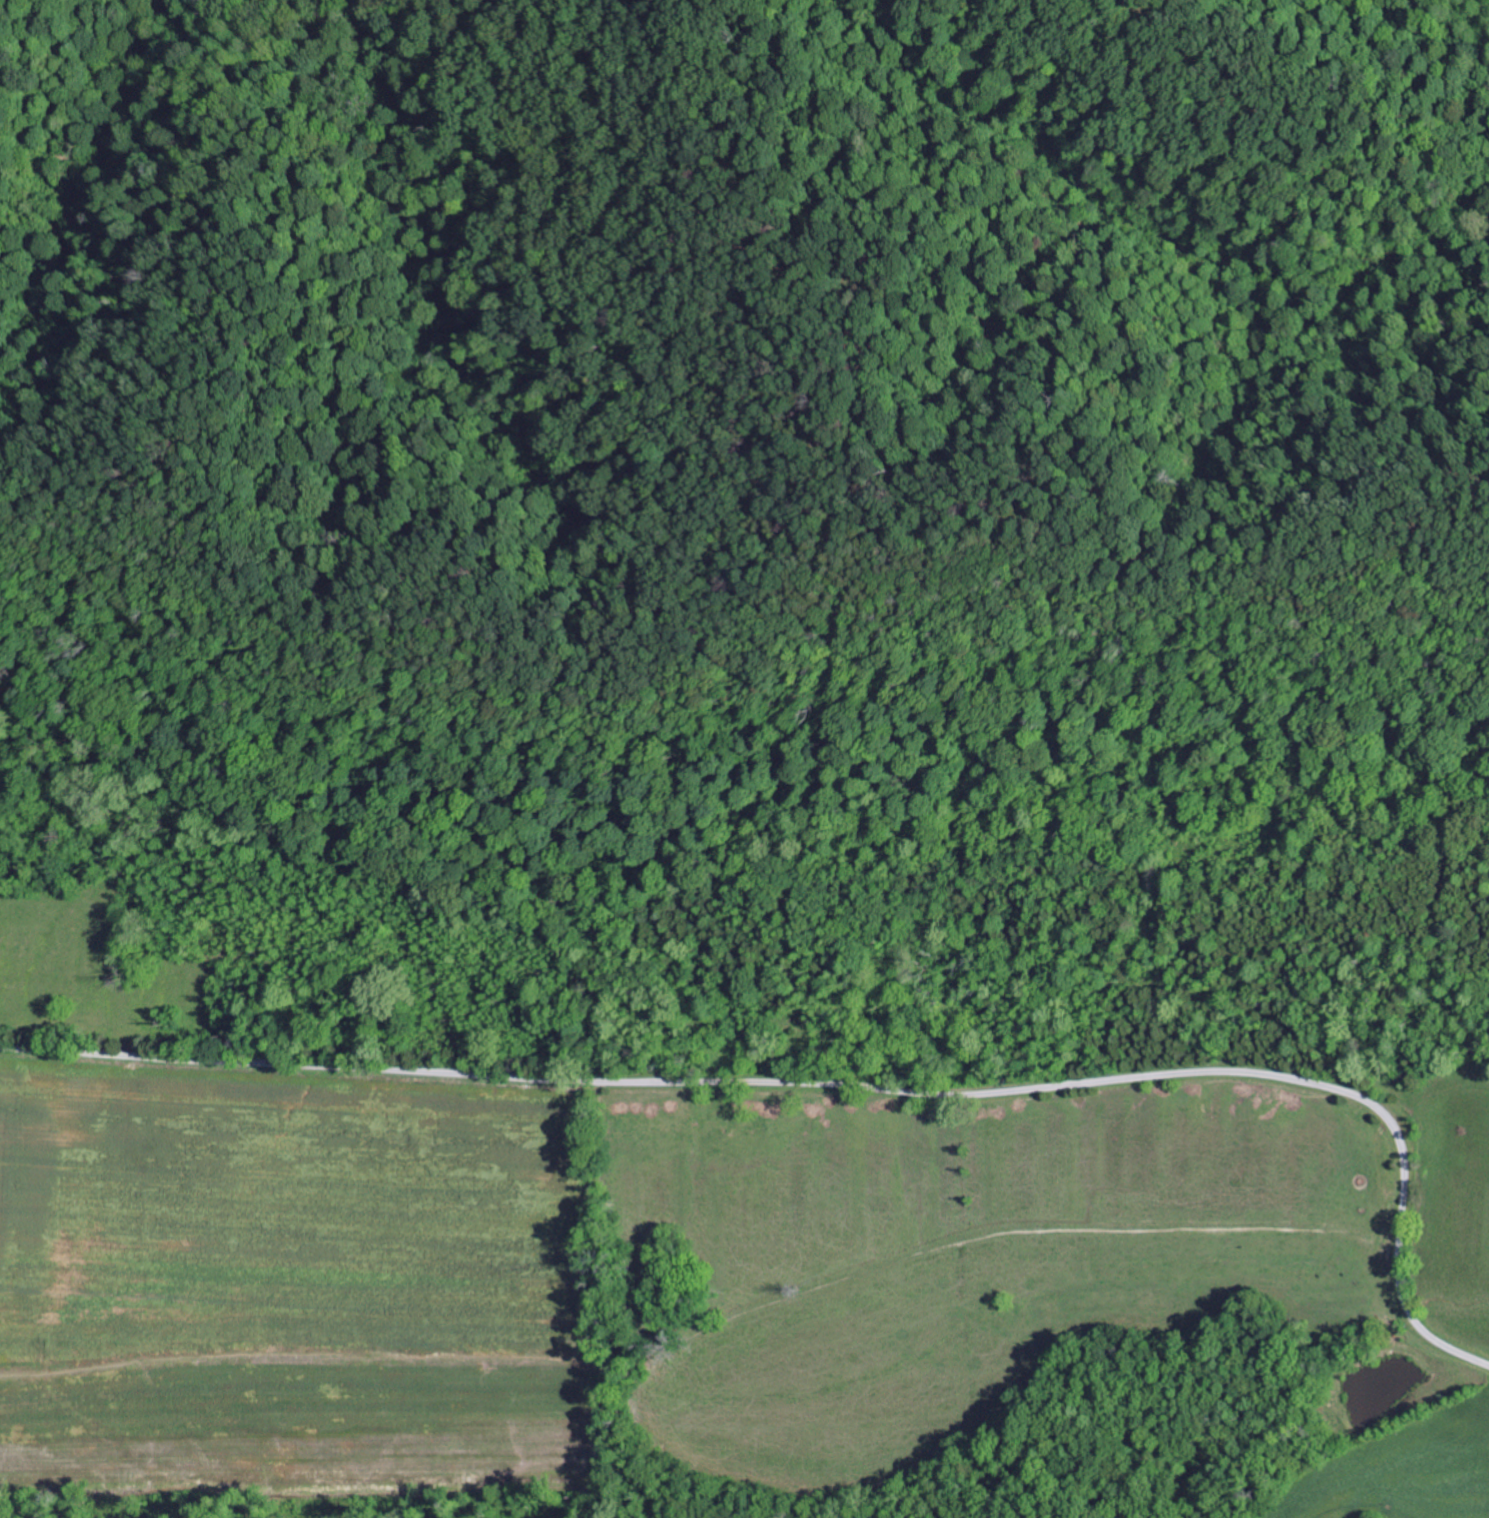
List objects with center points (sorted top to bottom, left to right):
road: (846, 1086)

